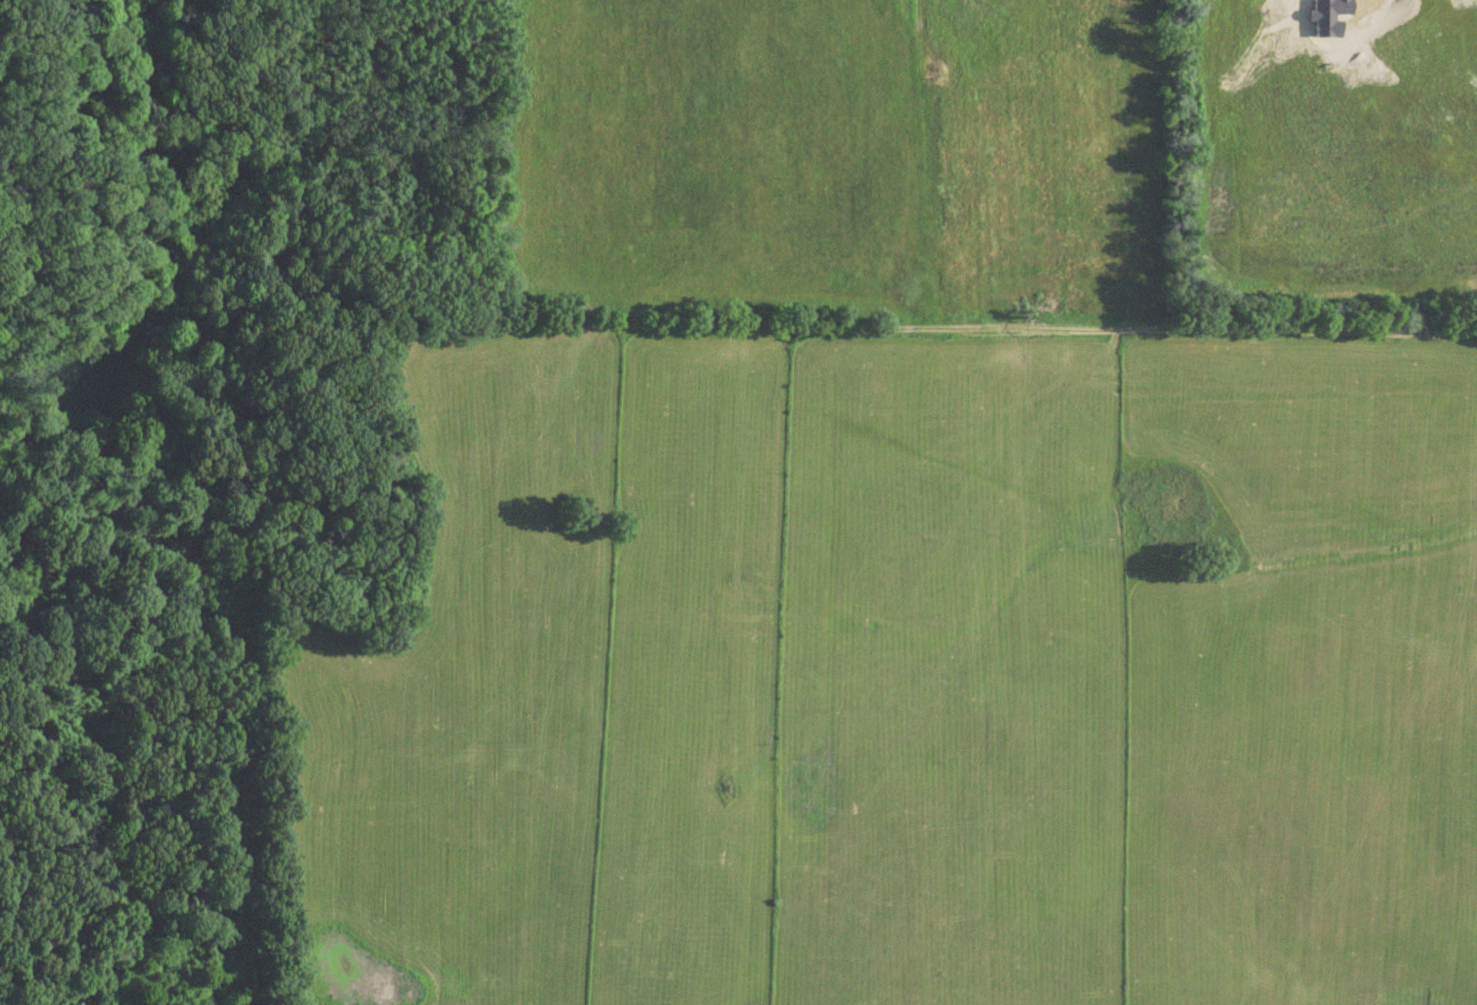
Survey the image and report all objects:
road: (1355, 0)
road: (1077, 323)
crop: (887, 563)

